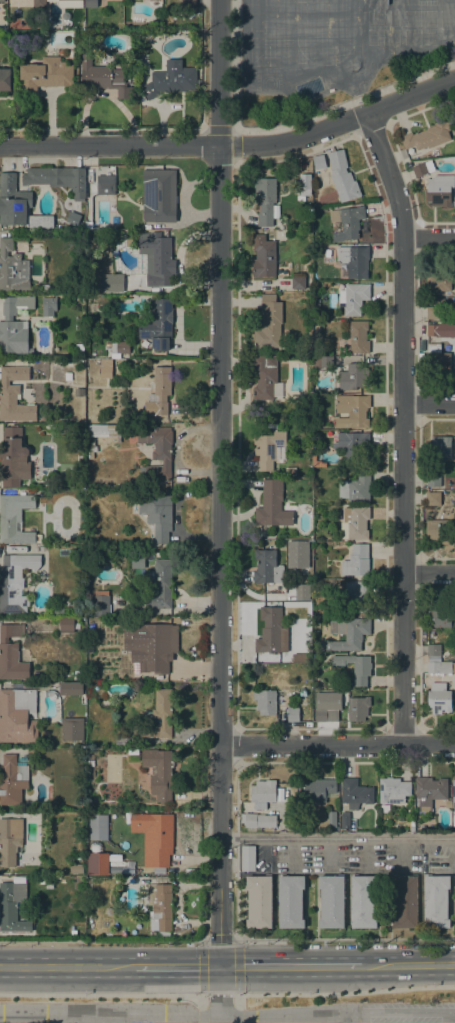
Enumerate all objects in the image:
building: (2, 0)
building: (39, 3)
building: (70, 3)
building: (91, 3)
building: (188, 4)
building: (65, 15)
building: (45, 75)
building: (104, 77)
building: (132, 78)
building: (6, 79)
building: (171, 81)
road: (287, 125)
building: (428, 136)
road: (233, 146)
building: (319, 161)
building: (422, 168)
building: (342, 176)
building: (58, 179)
building: (106, 185)
building: (304, 187)
building: (439, 190)
building: (158, 192)
building: (265, 200)
building: (19, 205)
building: (347, 222)
building: (147, 227)
road: (428, 237)
building: (317, 251)
building: (263, 256)
building: (159, 260)
building: (353, 261)
building: (434, 265)
building: (12, 269)
building: (298, 281)
building: (439, 281)
building: (112, 283)
building: (46, 287)
building: (354, 298)
building: (48, 306)
building: (433, 312)
building: (269, 322)
building: (15, 325)
building: (157, 326)
building: (433, 331)
building: (453, 331)
building: (446, 335)
building: (358, 336)
building: (79, 347)
building: (118, 348)
building: (80, 354)
building: (437, 359)
building: (55, 362)
building: (68, 362)
building: (322, 362)
building: (104, 368)
building: (68, 376)
building: (353, 377)
building: (266, 378)
building: (161, 389)
building: (79, 392)
building: (14, 396)
road: (428, 404)
building: (354, 408)
road: (402, 425)
road: (238, 428)
building: (103, 430)
building: (351, 441)
building: (89, 443)
building: (440, 448)
building: (269, 449)
building: (156, 452)
building: (13, 458)
building: (349, 460)
building: (317, 462)
building: (433, 480)
road: (219, 483)
building: (356, 487)
building: (433, 498)
building: (272, 505)
building: (157, 514)
building: (14, 518)
building: (355, 523)
building: (437, 530)
building: (38, 538)
building: (106, 557)
building: (357, 561)
building: (267, 567)
road: (429, 574)
building: (15, 582)
building: (158, 587)
building: (356, 596)
building: (272, 597)
building: (101, 602)
building: (57, 611)
building: (439, 617)
building: (68, 625)
building: (269, 630)
building: (348, 633)
building: (149, 644)
building: (433, 649)
building: (12, 653)
building: (355, 667)
building: (439, 667)
building: (36, 675)
building: (71, 688)
building: (439, 698)
building: (265, 701)
building: (357, 708)
building: (292, 714)
building: (333, 714)
building: (17, 715)
building: (159, 715)
building: (321, 715)
building: (114, 722)
building: (72, 729)
building: (120, 740)
road: (234, 744)
road: (337, 744)
building: (159, 772)
building: (13, 778)
building: (320, 790)
building: (393, 790)
building: (429, 792)
building: (263, 793)
building: (355, 793)
building: (453, 794)
building: (385, 808)
building: (332, 819)
building: (258, 820)
building: (345, 820)
building: (97, 827)
building: (412, 829)
building: (155, 837)
road: (338, 838)
building: (10, 841)
road: (236, 850)
building: (248, 858)
building: (97, 860)
building: (76, 868)
building: (8, 873)
building: (260, 901)
building: (291, 901)
building: (332, 901)
building: (363, 901)
building: (405, 901)
building: (436, 901)
building: (161, 906)
building: (12, 907)
building: (109, 911)
road: (345, 939)
road: (102, 940)
road: (236, 940)
road: (67, 965)
road: (407, 965)
road: (177, 966)
traffic signals: (221, 966)
road: (290, 966)
road: (221, 990)
road: (345, 993)
road: (101, 994)
road: (173, 1011)
road: (400, 1011)
road: (346, 1017)
road: (454, 1017)
road: (400, 1022)

